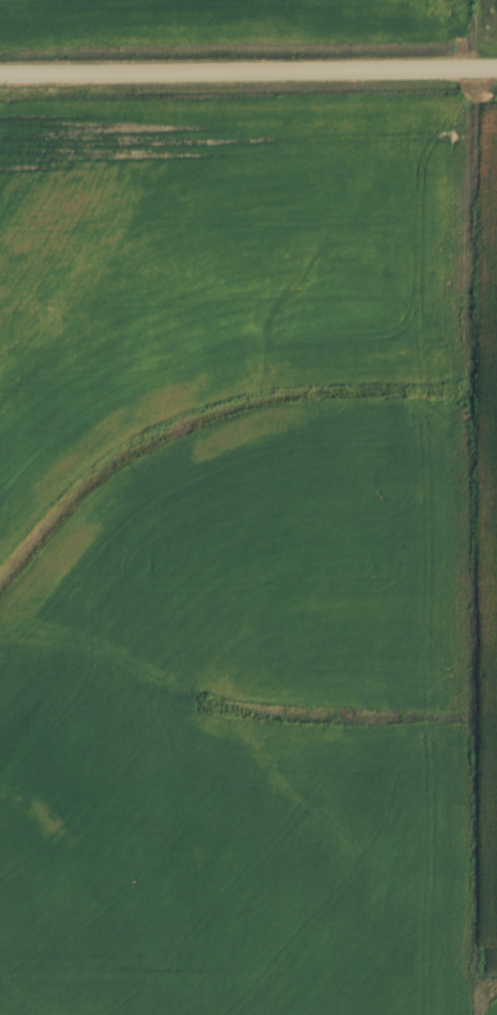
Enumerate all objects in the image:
road: (248, 68)

